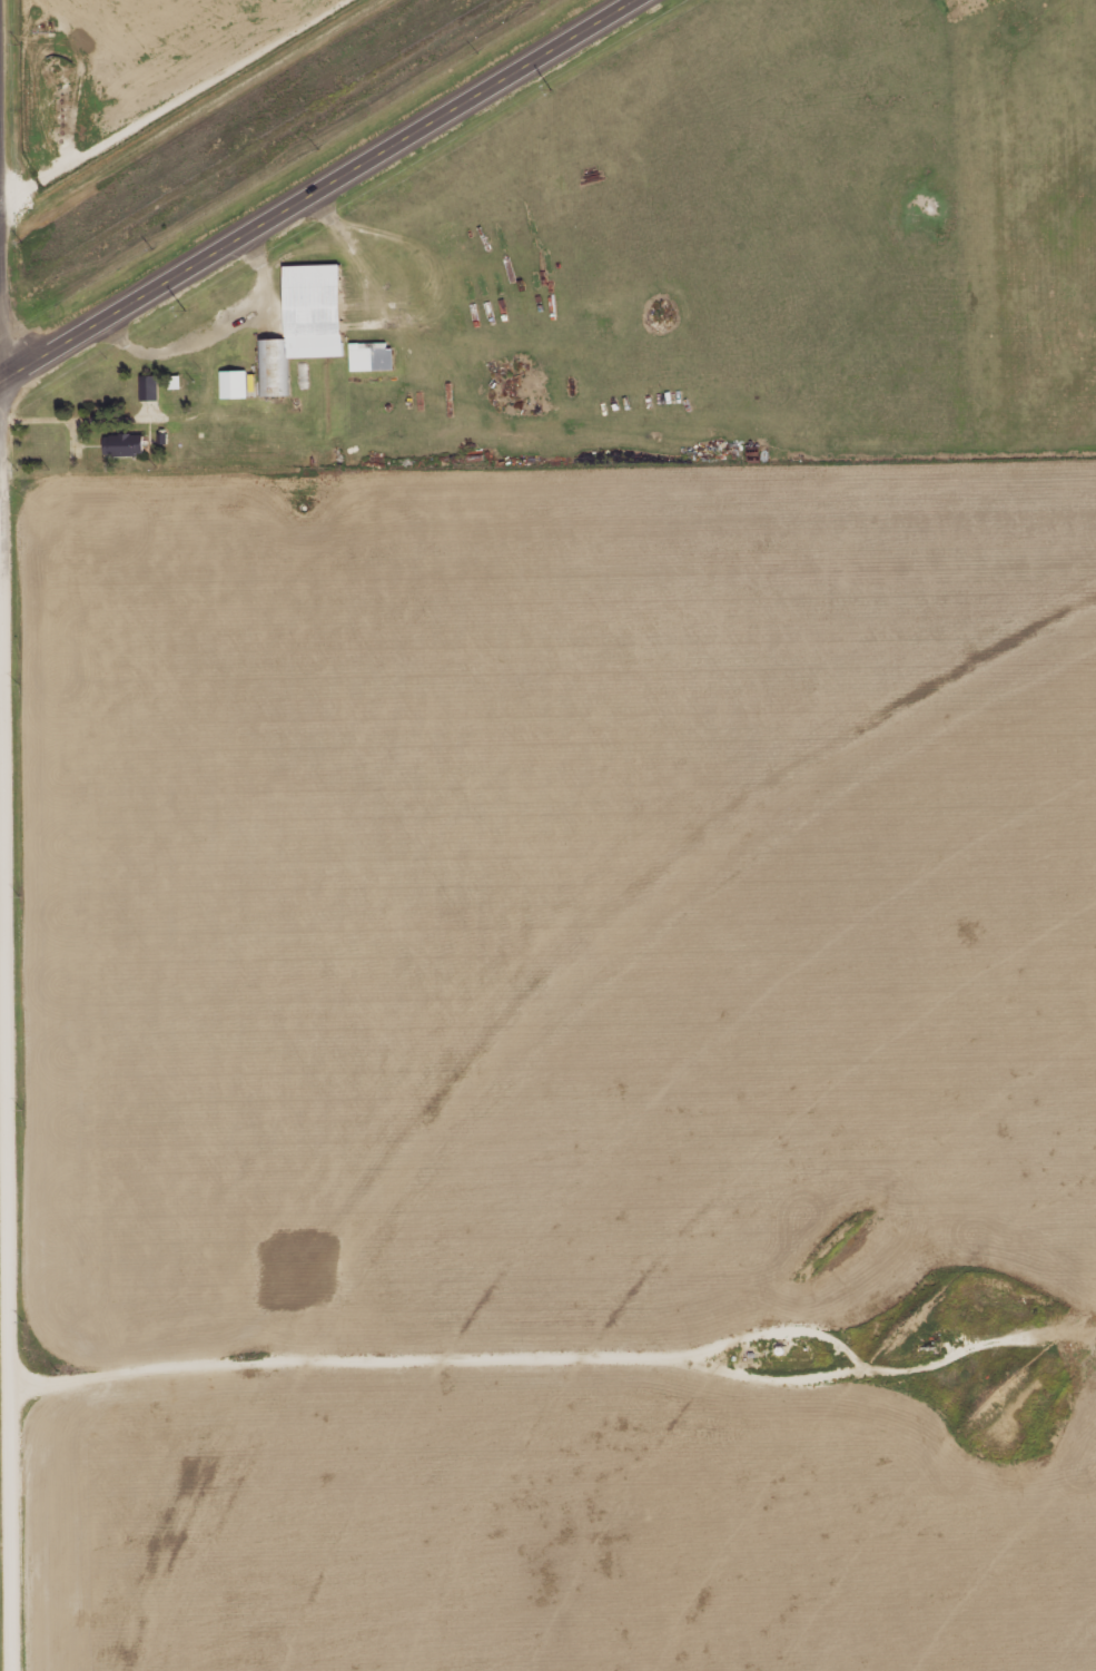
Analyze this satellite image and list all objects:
road: (135, 79)
power tower: (546, 88)
road: (319, 193)
power tower: (178, 304)
building: (367, 355)
building: (229, 383)
road: (10, 914)

